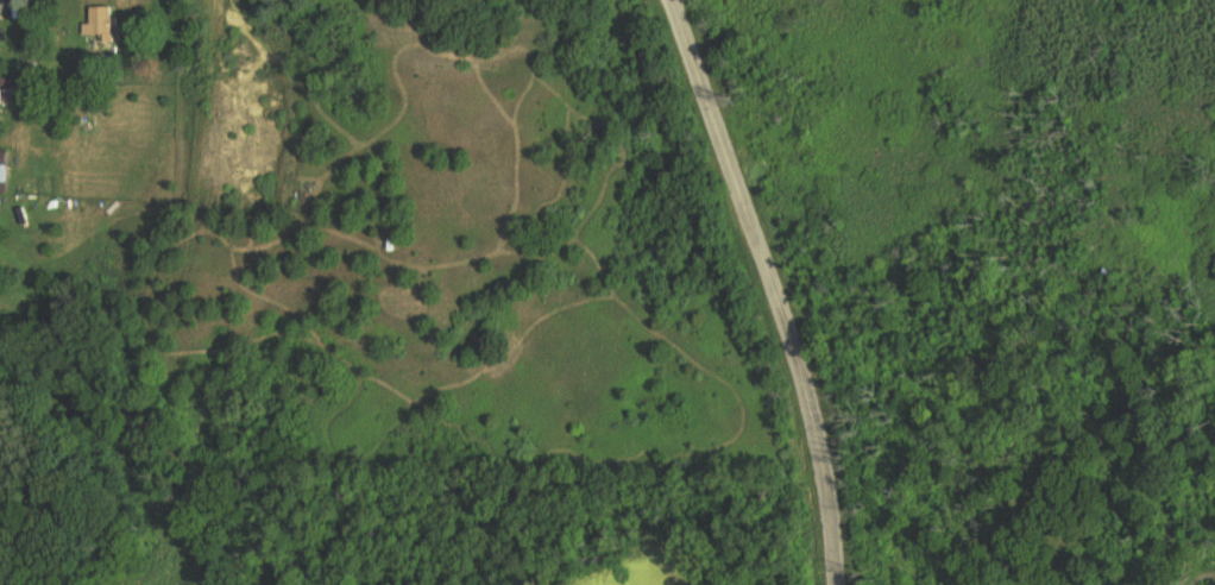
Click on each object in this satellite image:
building: (2, 6)
building: (101, 20)
building: (7, 88)
building: (6, 165)
road: (770, 289)

